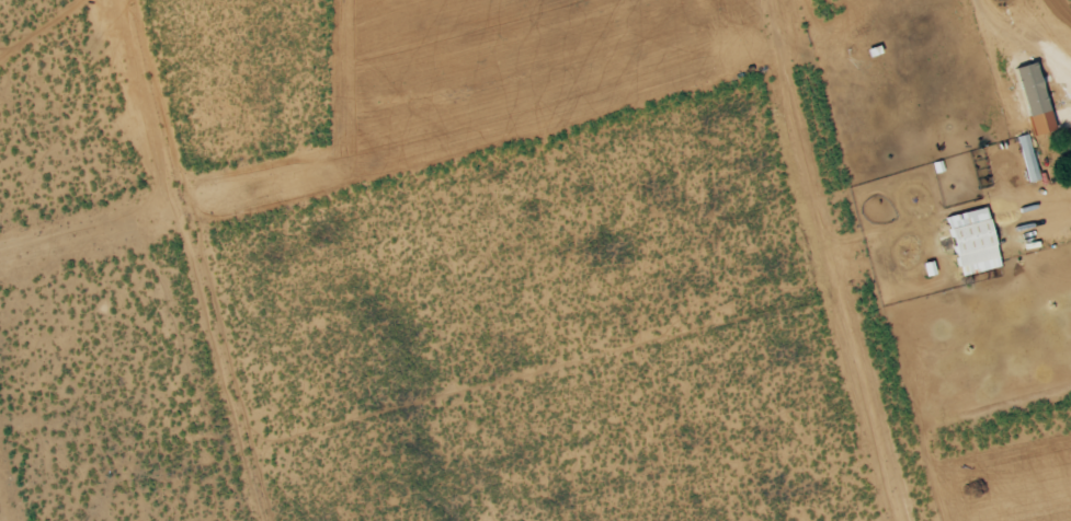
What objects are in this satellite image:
road: (1022, 39)
building: (1029, 89)
building: (1026, 158)
building: (971, 241)
building: (927, 269)

